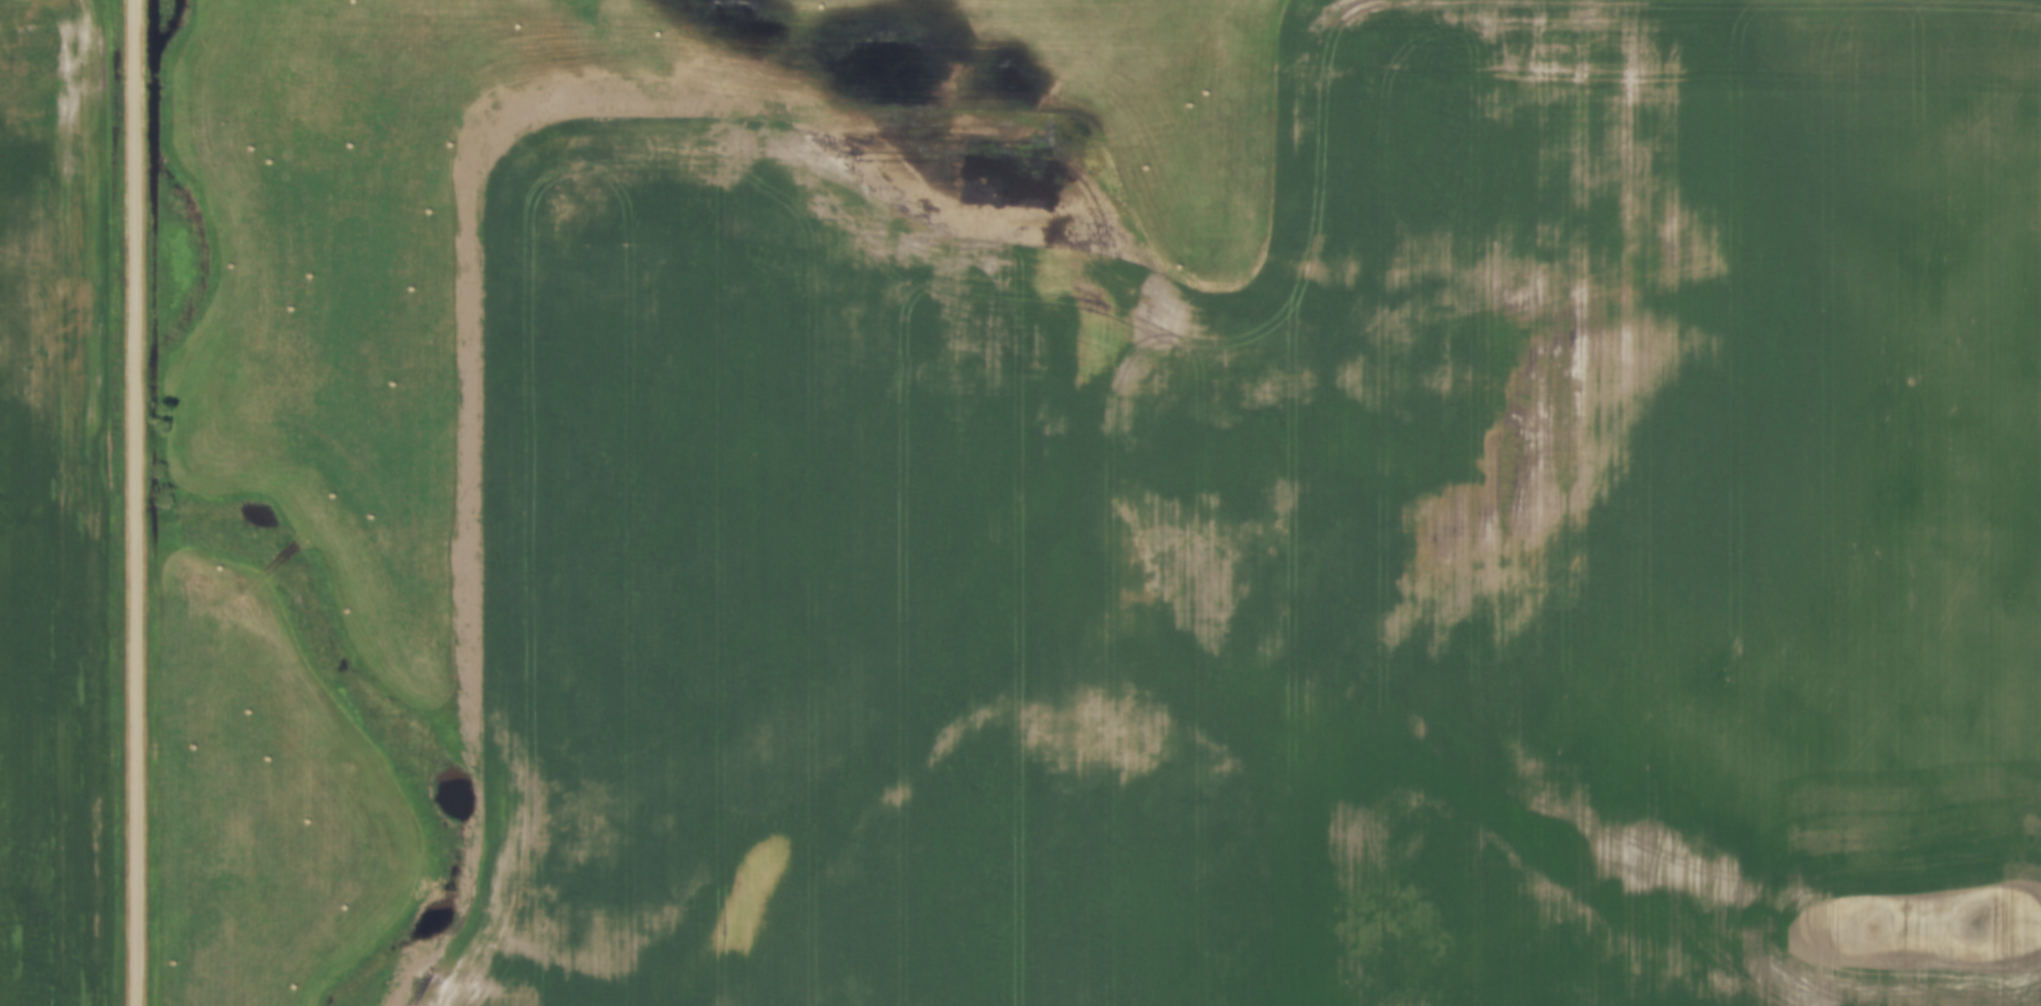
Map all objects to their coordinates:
road: (134, 502)

